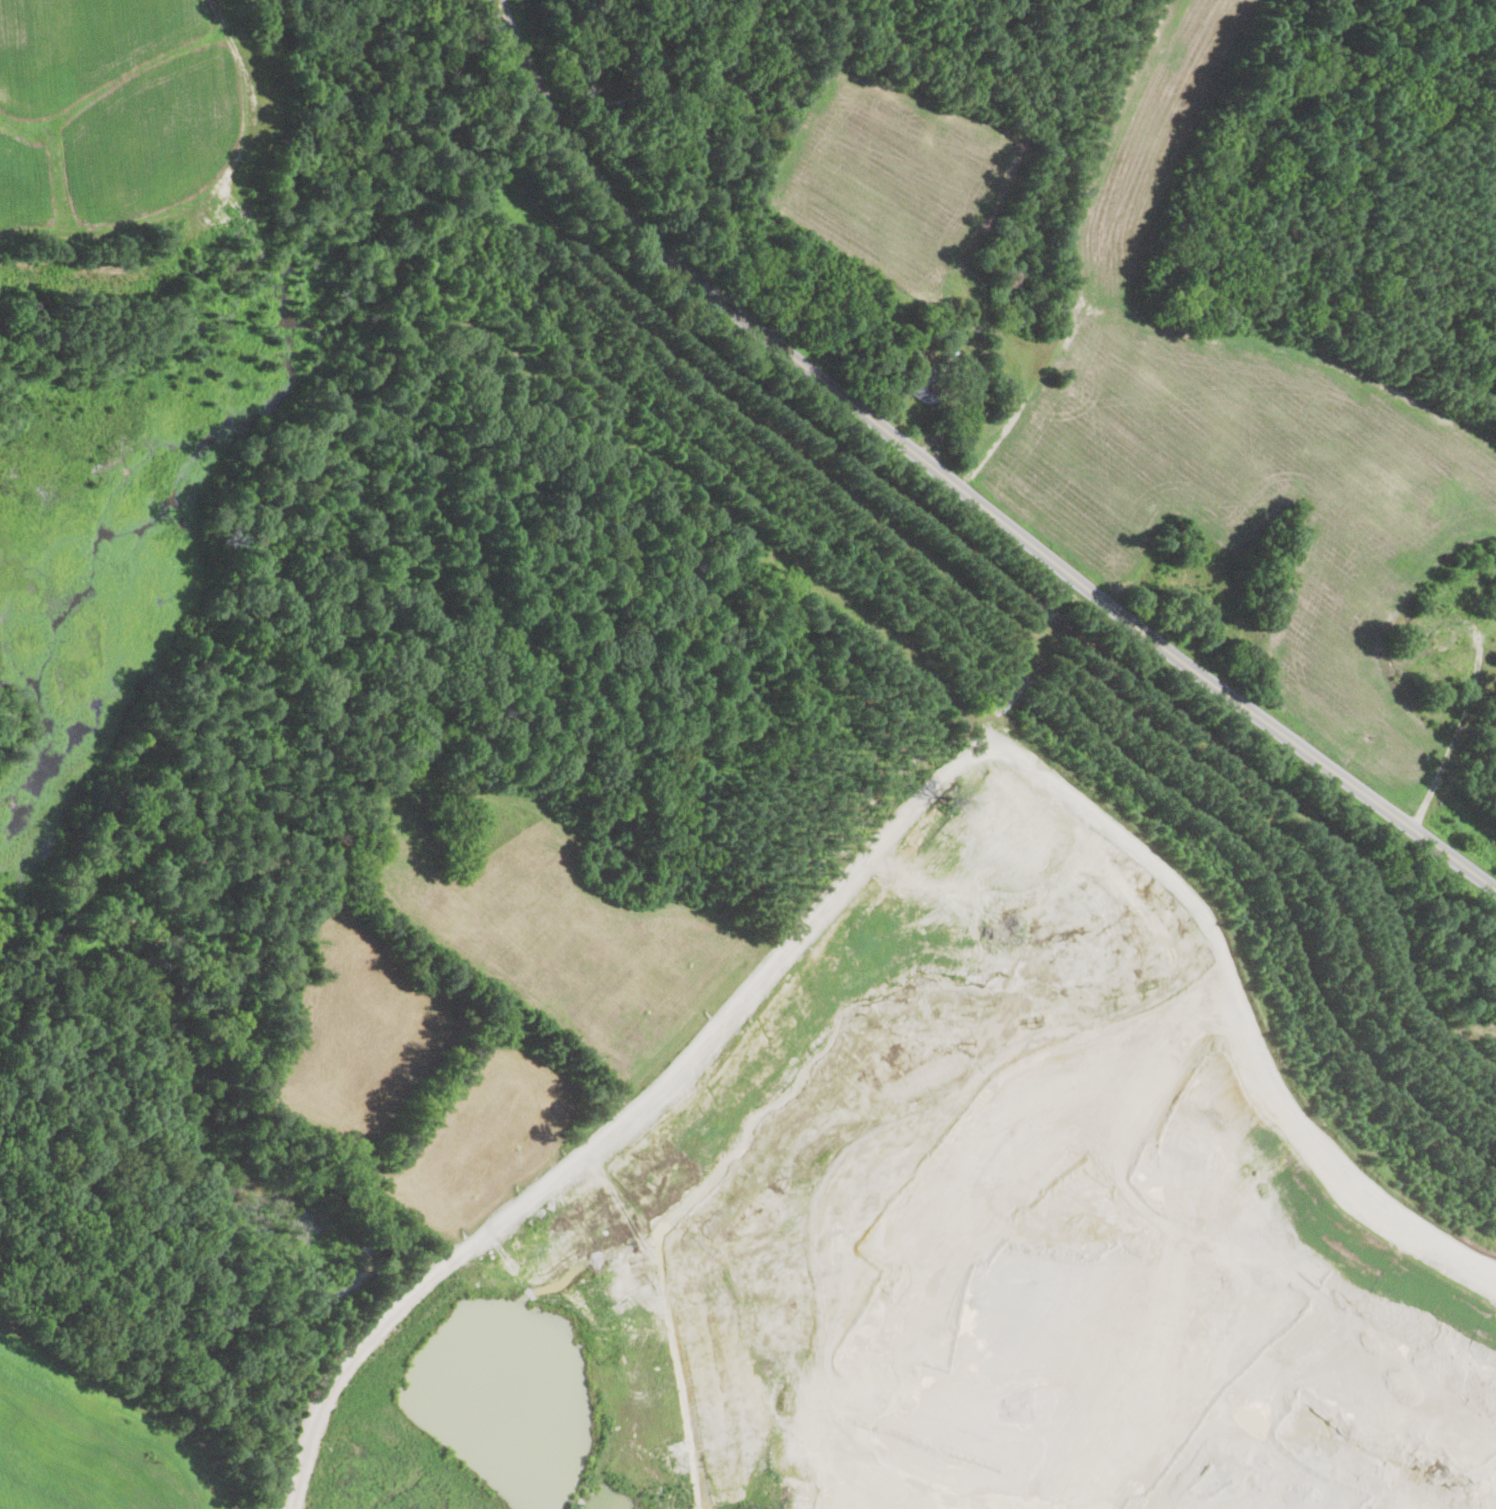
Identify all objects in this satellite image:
building: (749, 110)
building: (1011, 279)
building: (818, 331)
building: (932, 331)
building: (972, 377)
building: (927, 386)
road: (955, 484)
building: (1446, 640)
road: (1458, 733)
building: (1056, 895)
quarry: (690, 966)
building: (1471, 1014)
road: (258, 1383)

